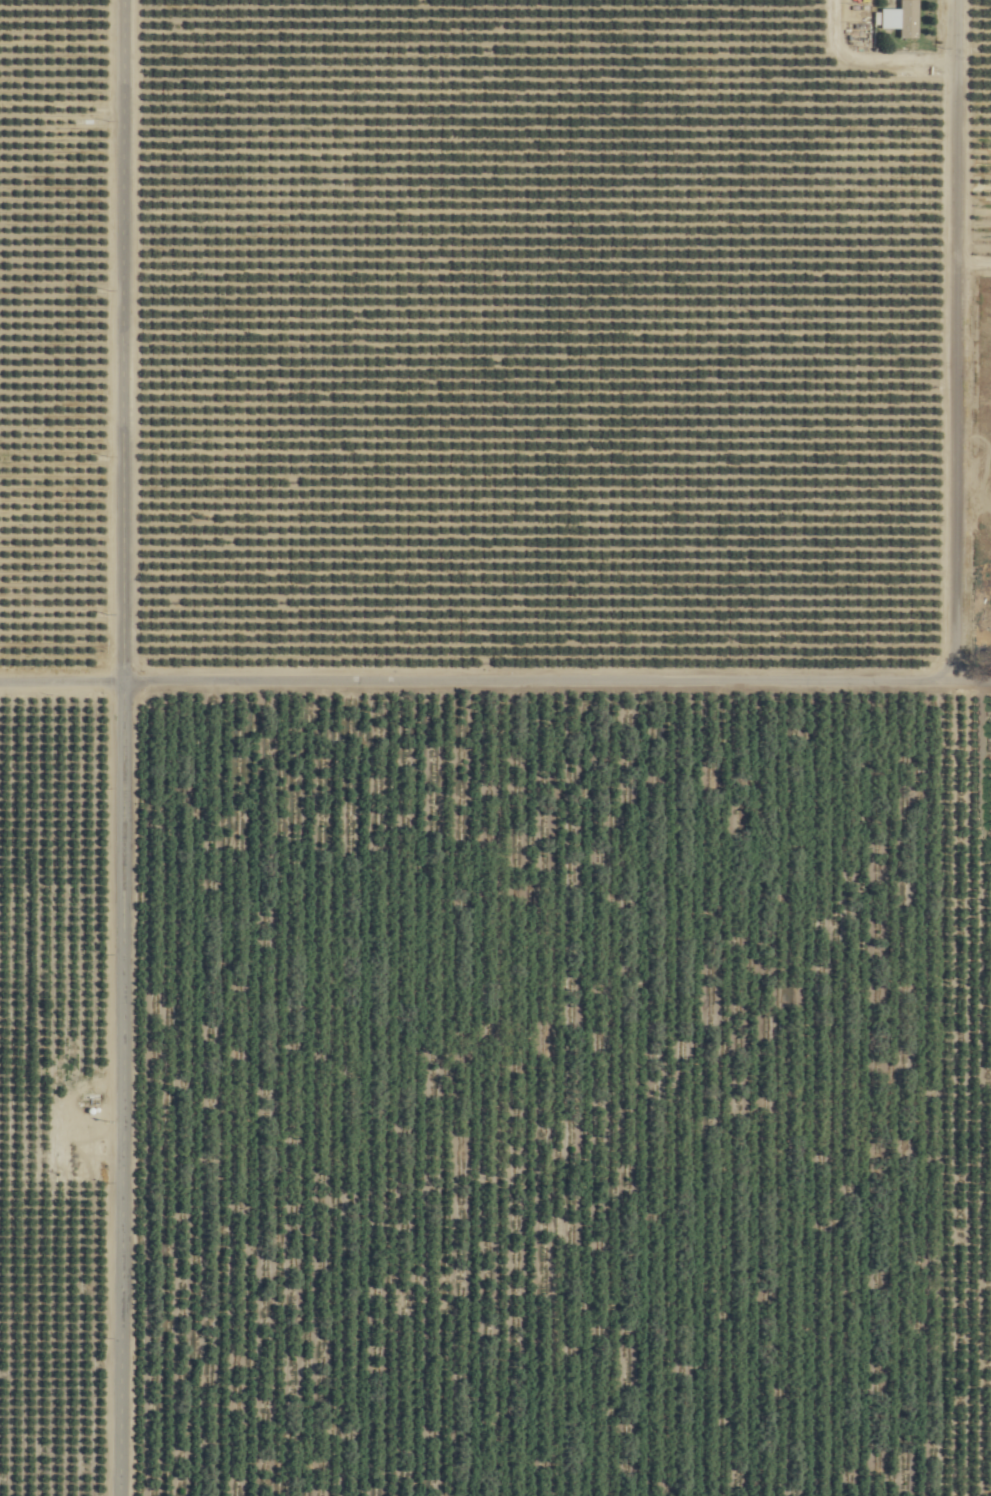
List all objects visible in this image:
road: (965, 338)
road: (495, 676)
road: (125, 747)
crop: (479, 765)
building: (19, 1149)

